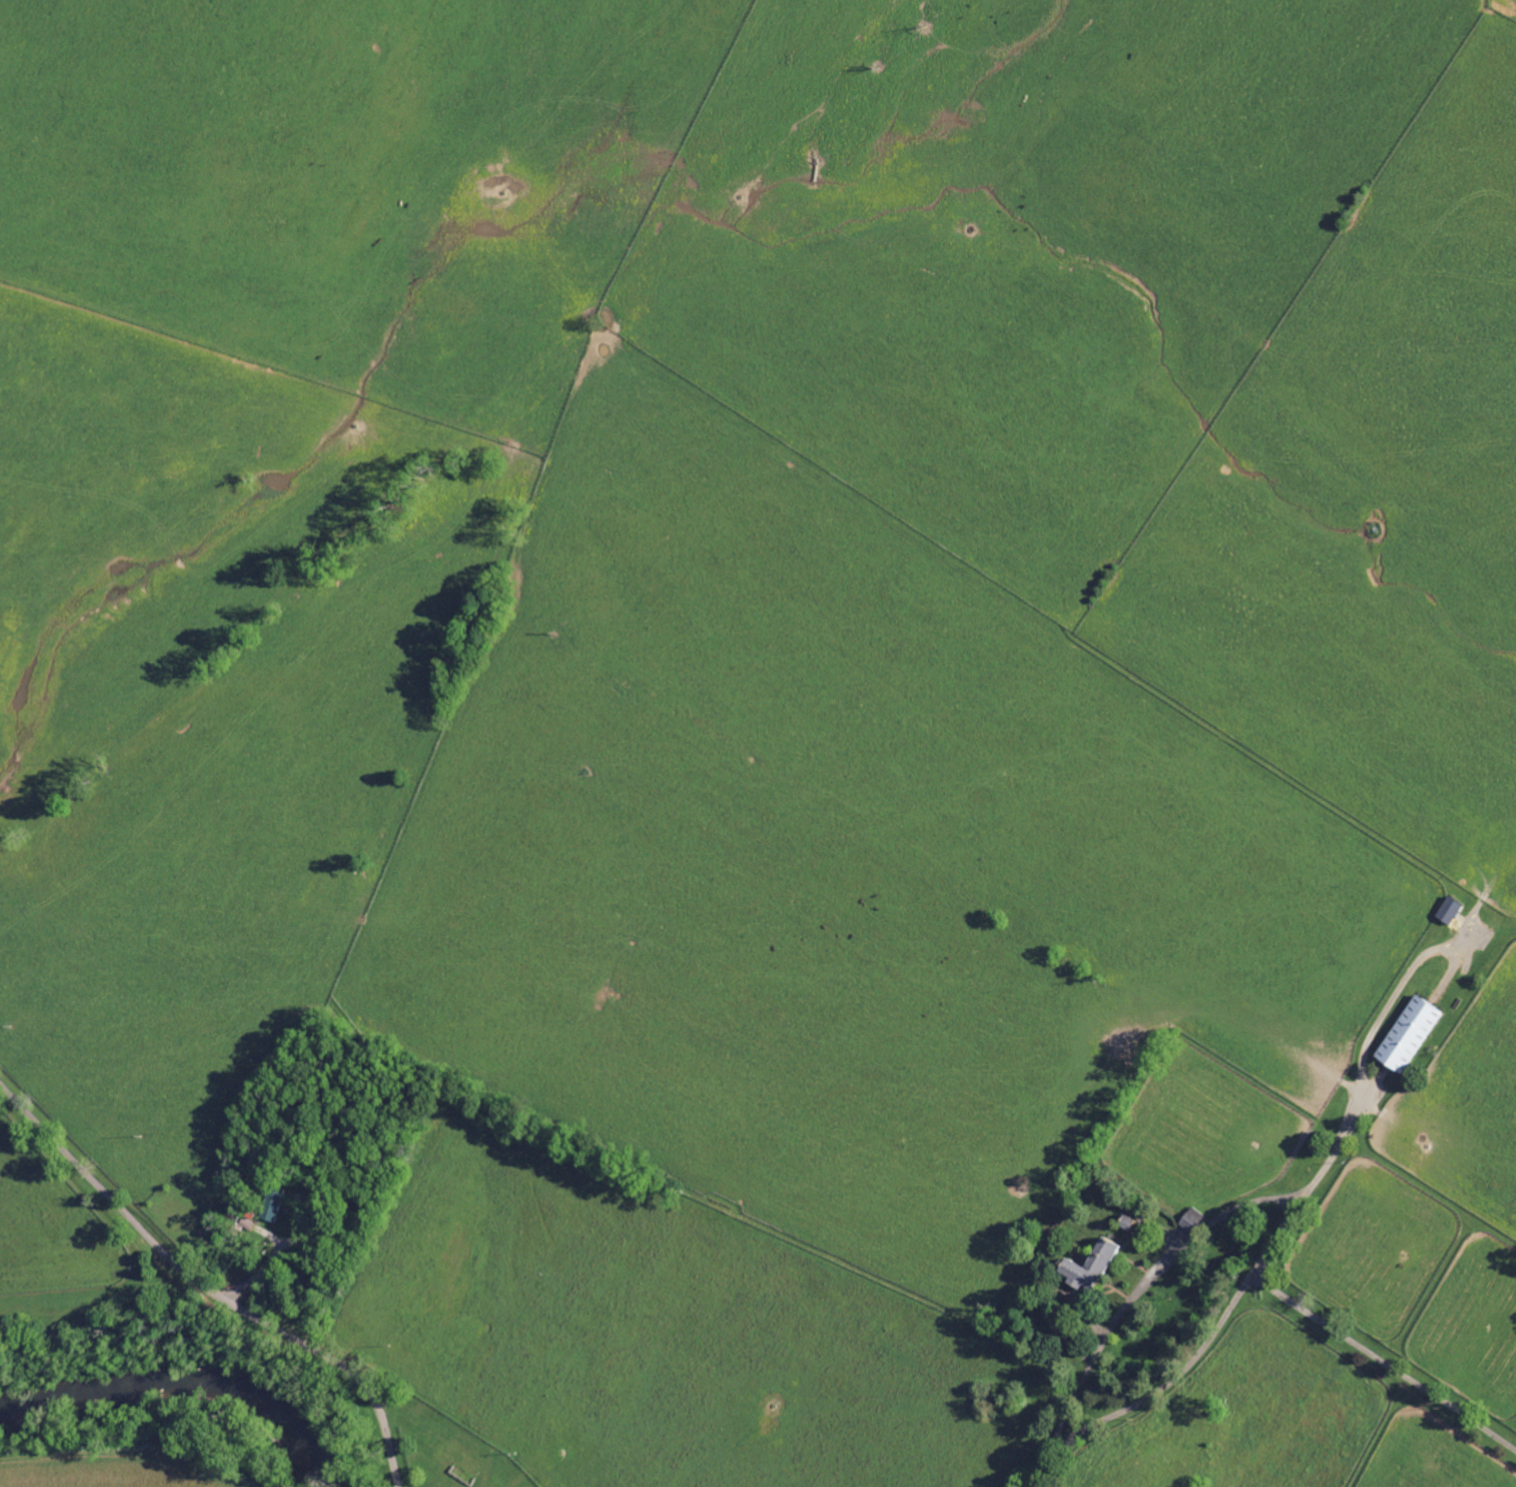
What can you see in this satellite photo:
building: (1448, 909)
road: (1391, 1000)
building: (1407, 1033)
building: (267, 1203)
building: (1087, 1266)
road: (1146, 1280)
road: (208, 1288)
road: (1294, 1302)
road: (1152, 1394)
river: (197, 1398)

